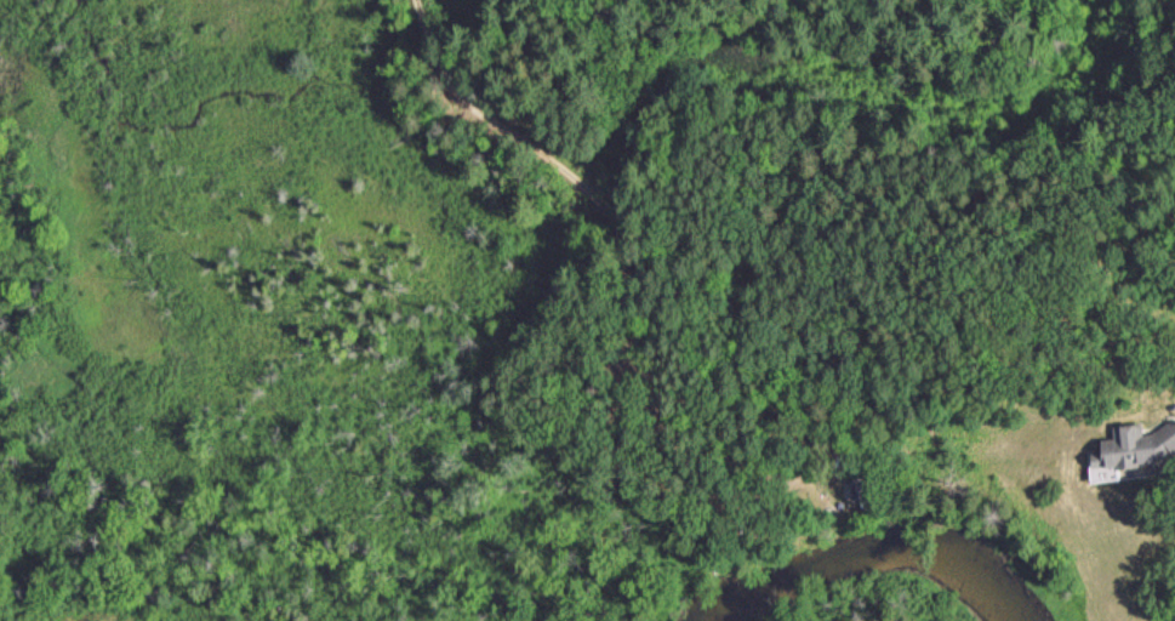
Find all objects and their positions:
road: (1008, 332)
building: (1133, 452)
river: (877, 552)

